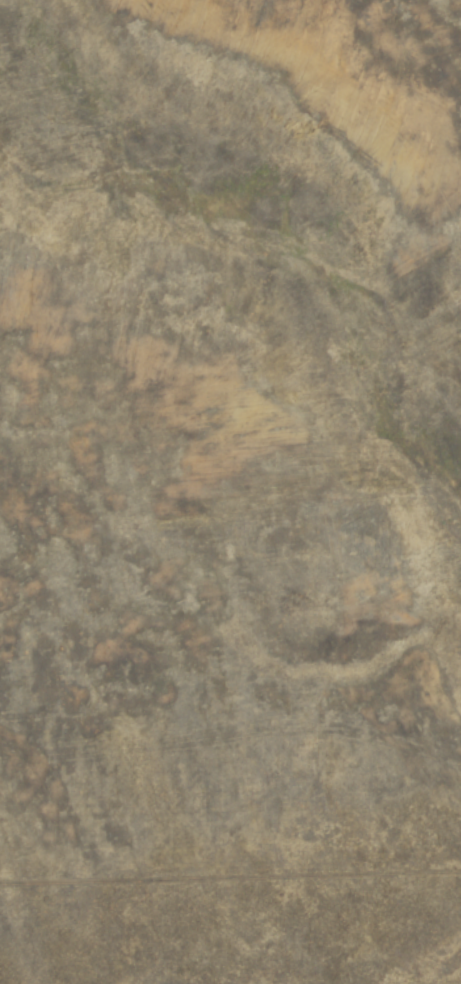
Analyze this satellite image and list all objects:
road: (230, 877)

